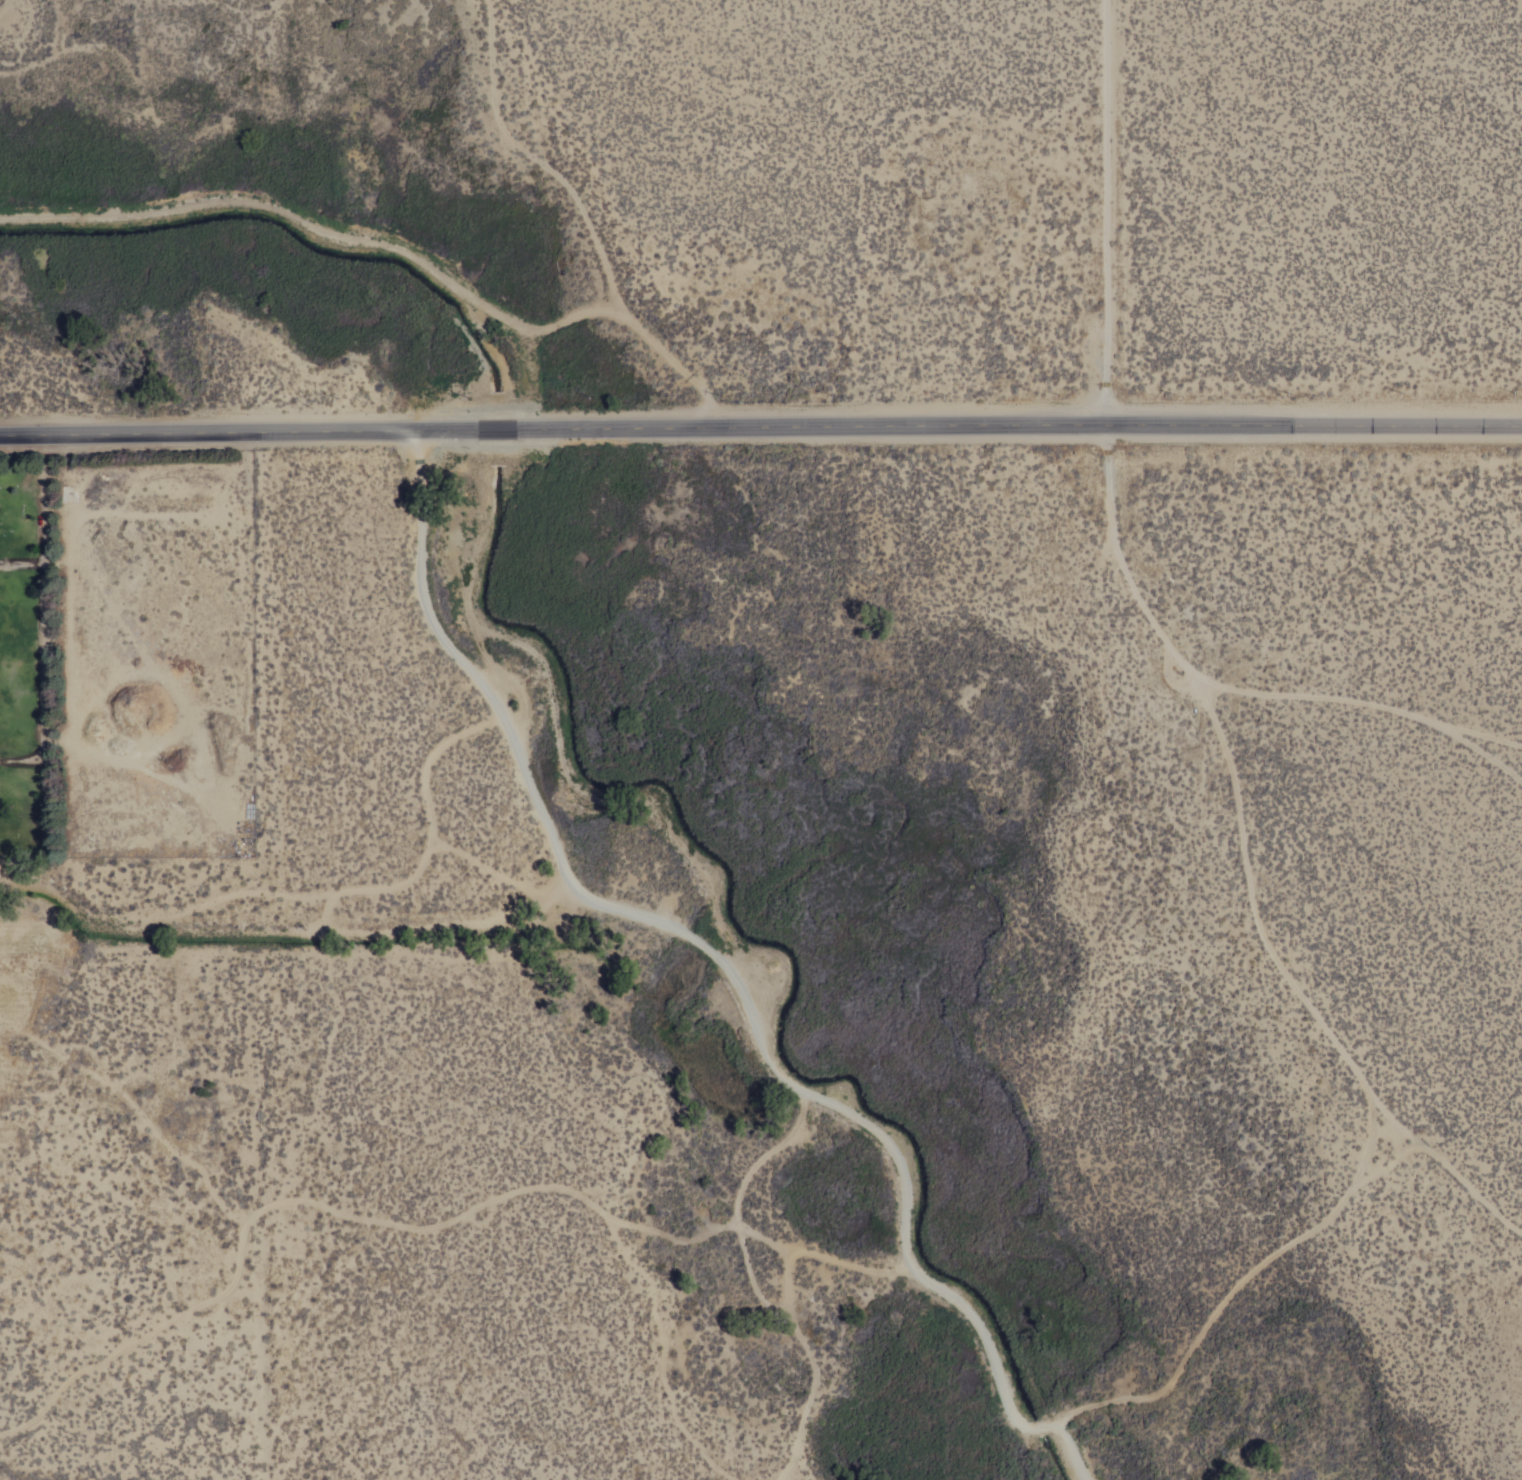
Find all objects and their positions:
road: (3, 6)
road: (535, 157)
road: (402, 249)
road: (760, 428)
road: (23, 565)
road: (46, 618)
park: (128, 654)
road: (1174, 669)
road: (1362, 709)
road: (1502, 739)
road: (729, 963)
road: (755, 1179)
road: (857, 1261)
road: (1244, 1285)
road: (820, 1367)

